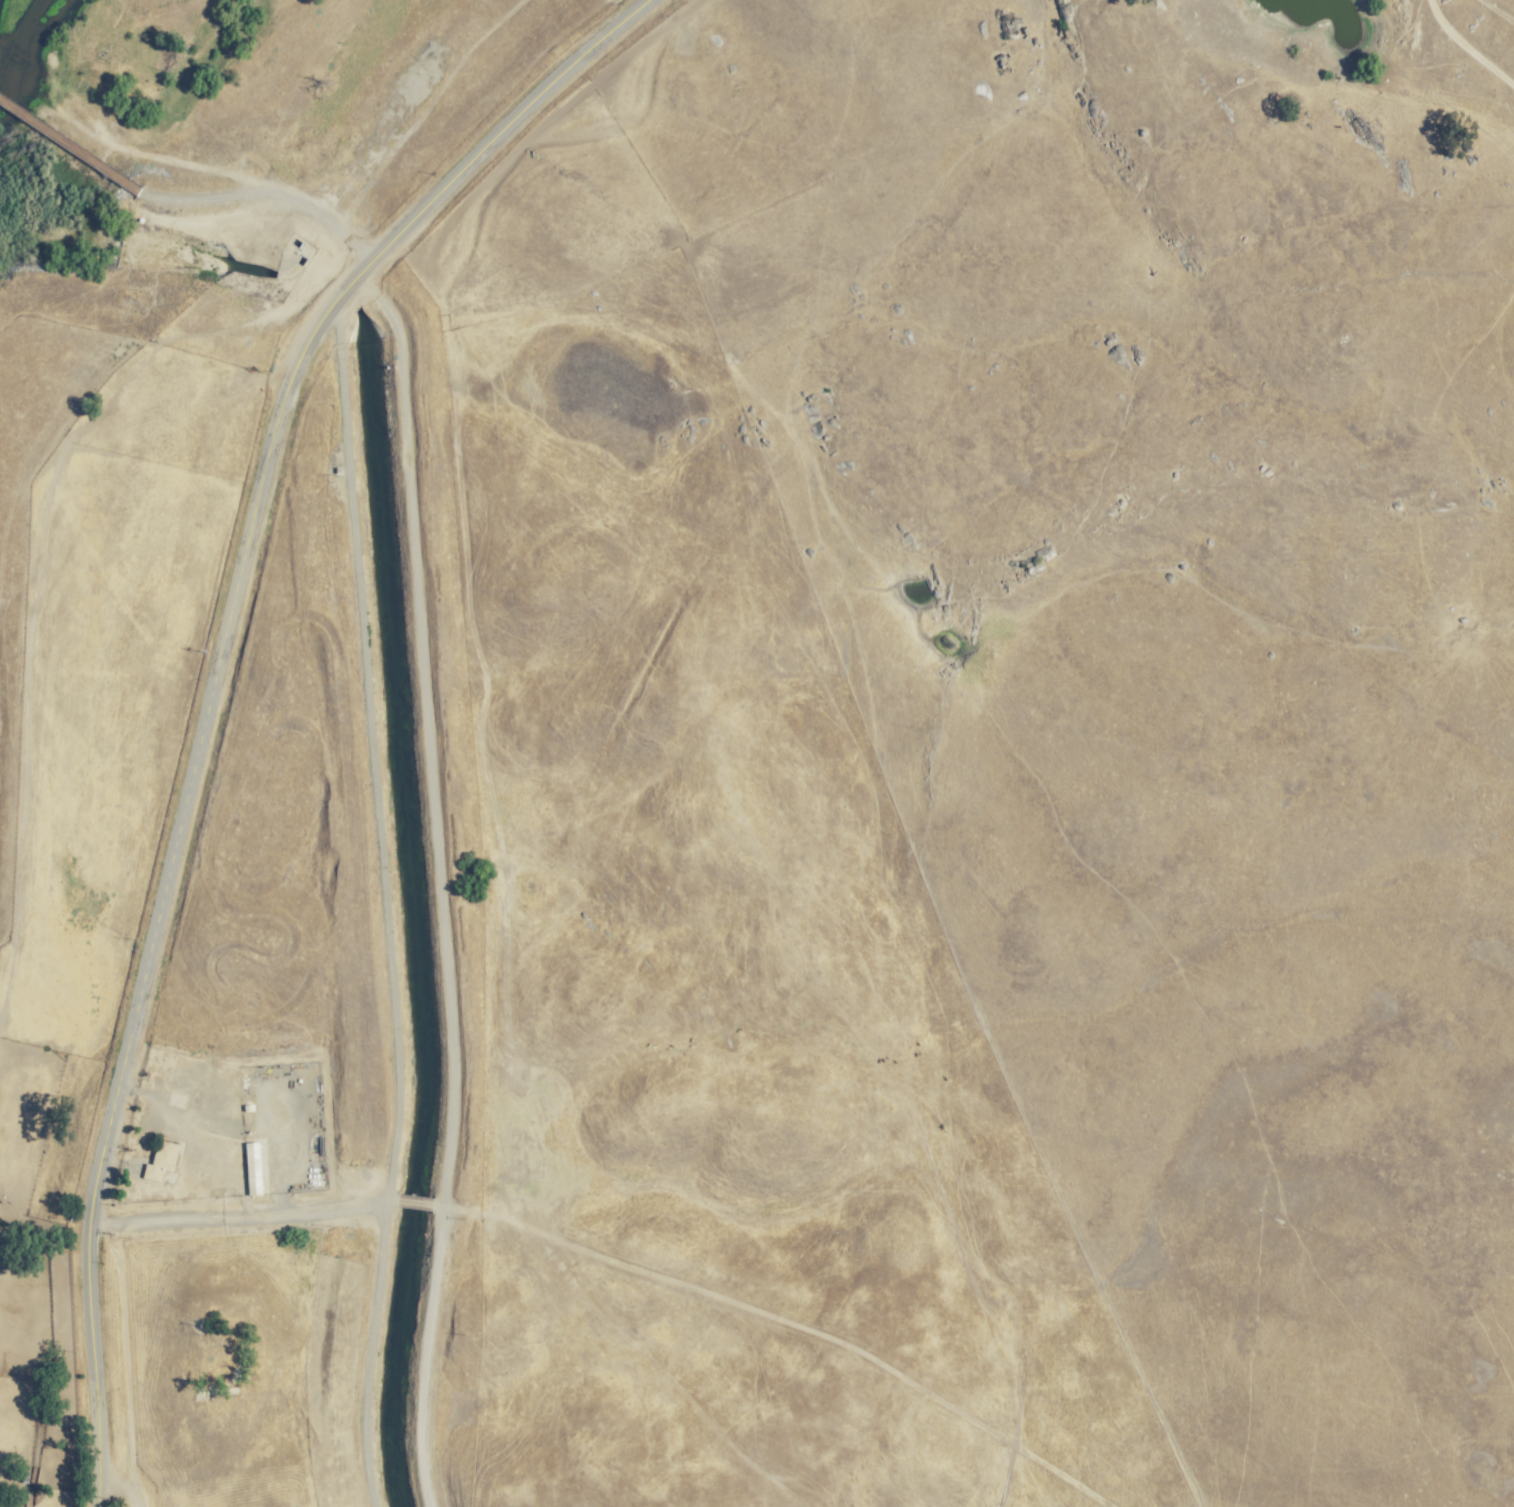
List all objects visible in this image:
road: (1461, 36)
river: (20, 47)
road: (489, 141)
road: (475, 656)
road: (165, 889)
road: (307, 961)
building: (159, 1158)
building: (251, 1166)
road: (636, 1243)
road: (11, 1367)

